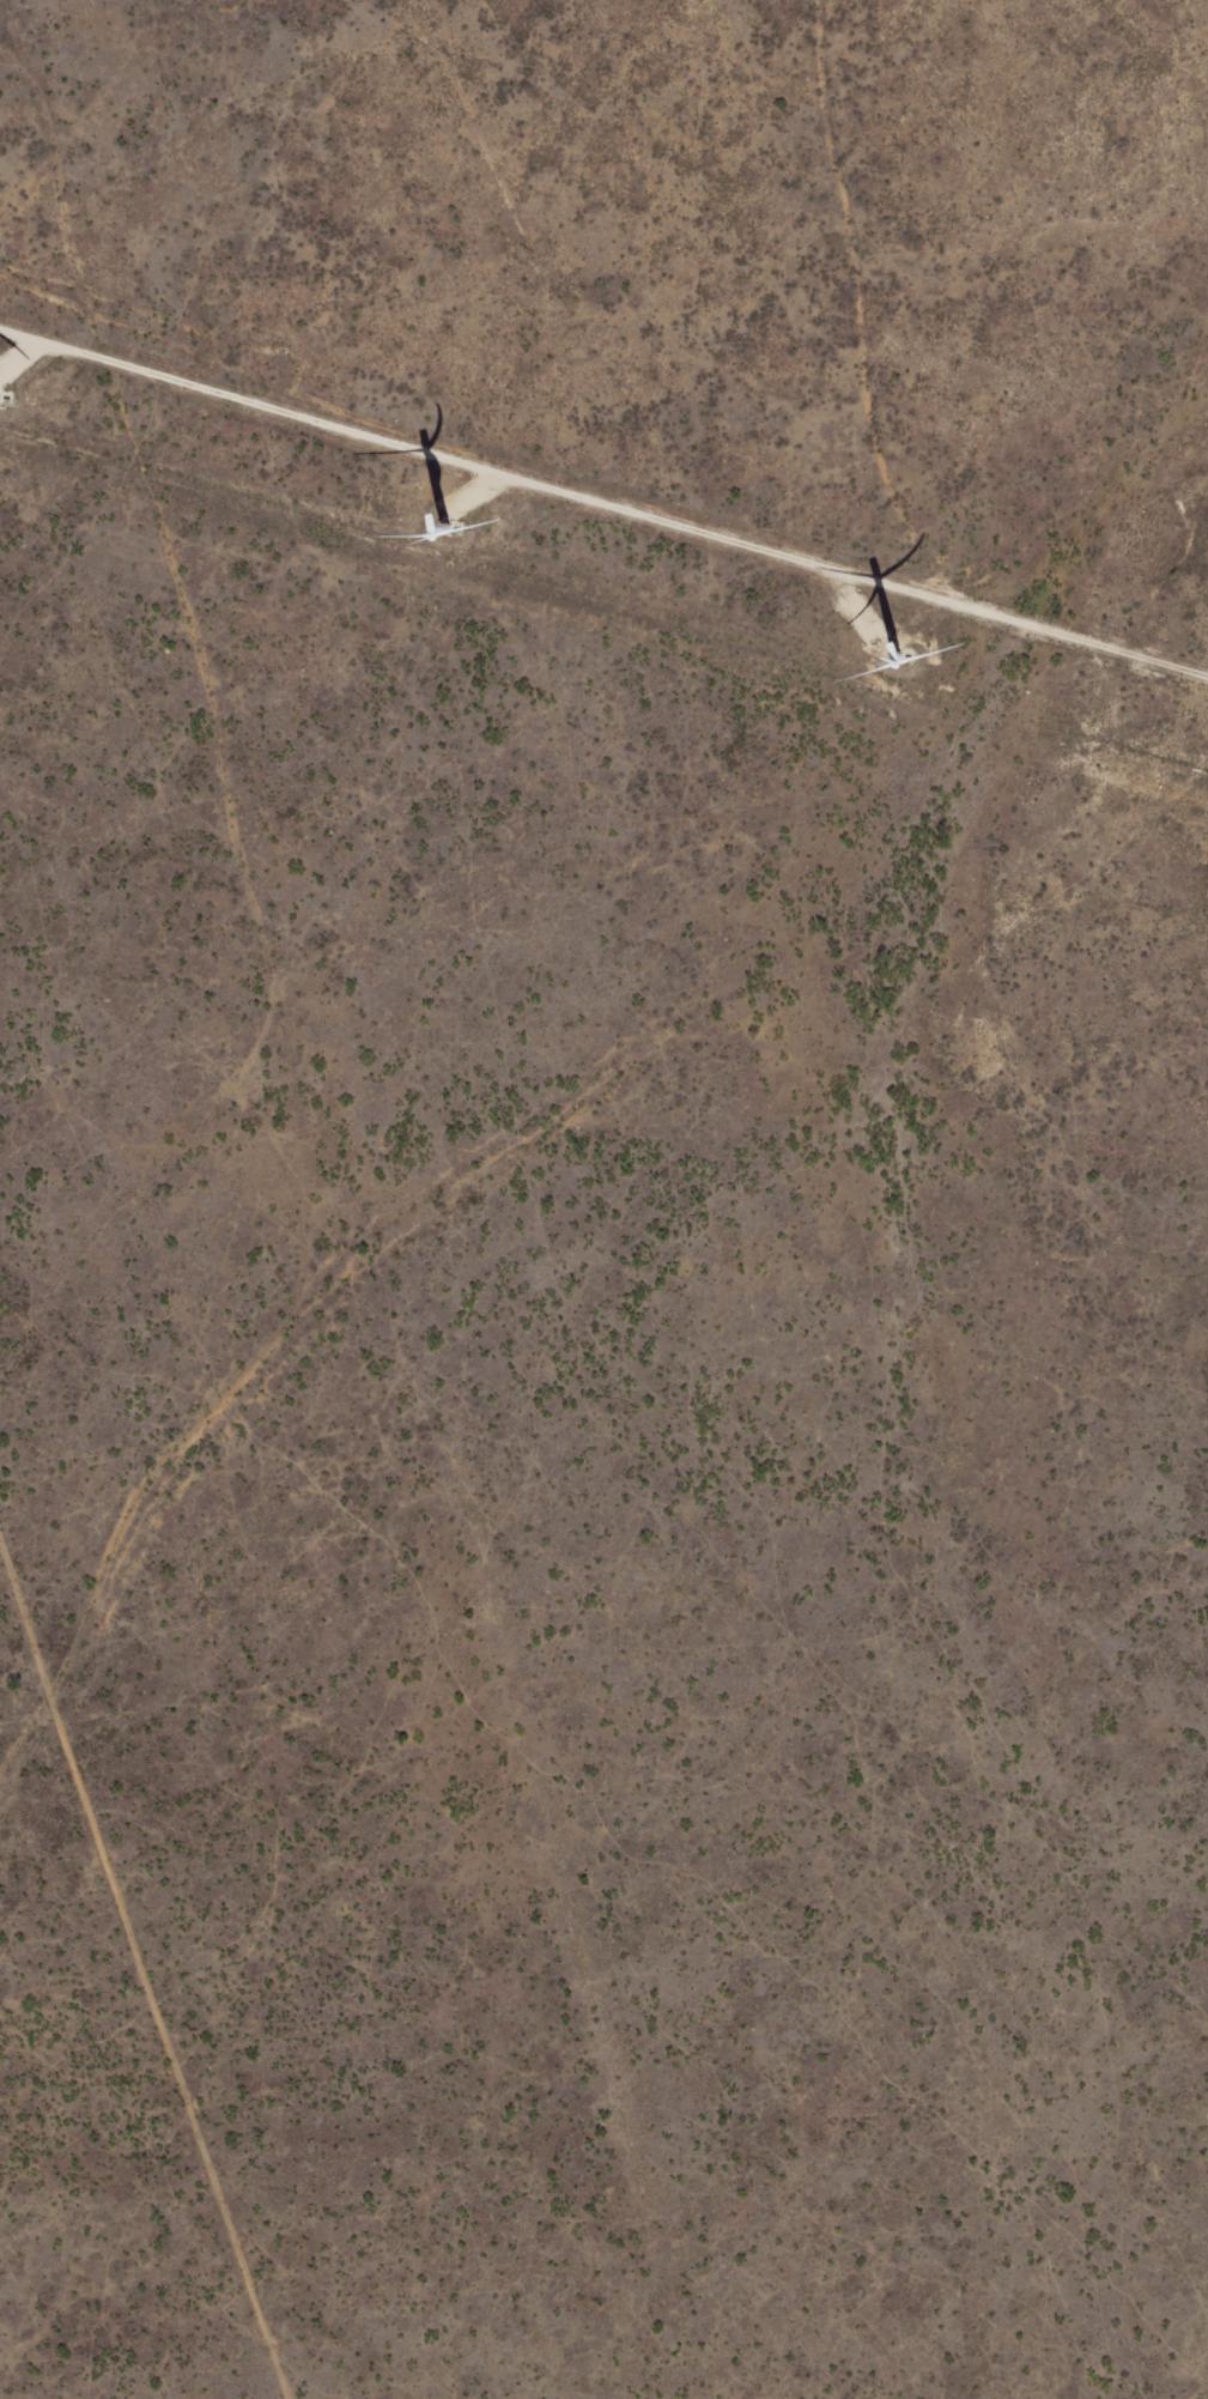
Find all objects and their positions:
wind turbine: (45, 402)
wind turbine: (459, 503)
wind turbine: (834, 648)
road: (247, 889)

